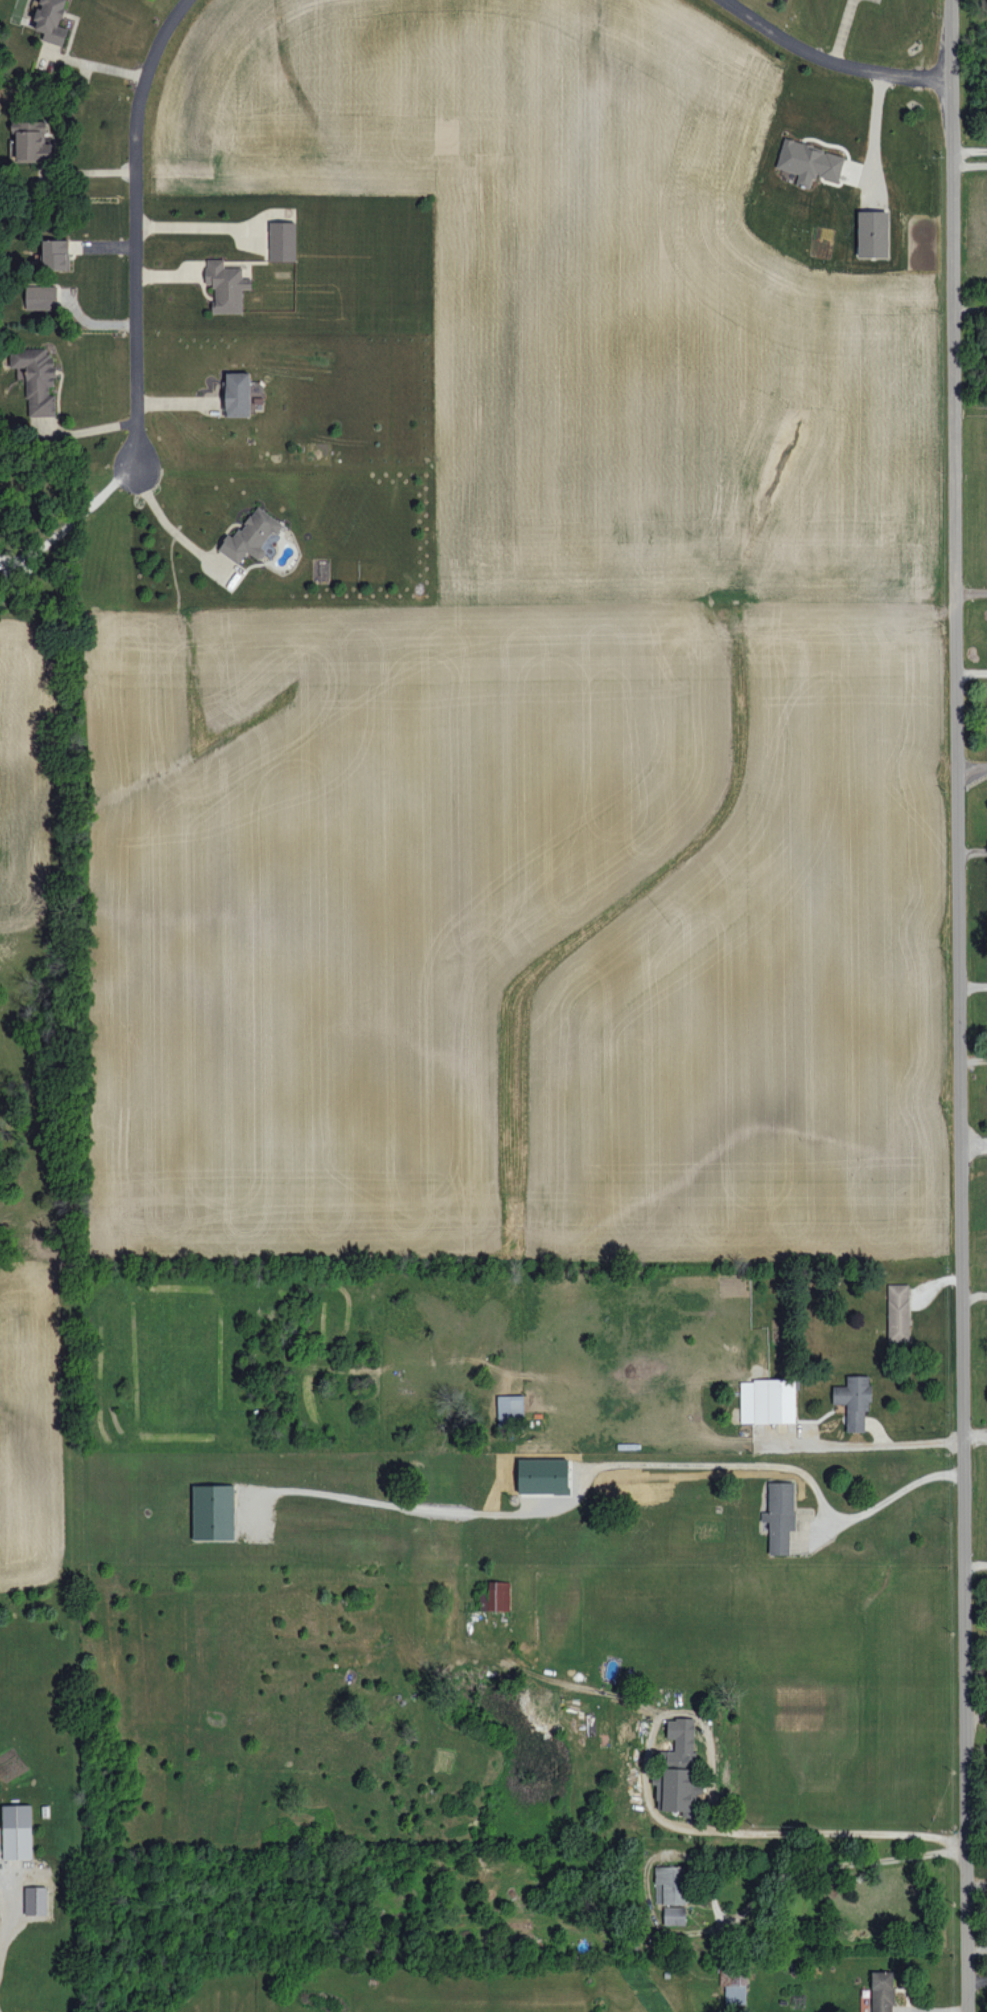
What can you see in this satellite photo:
building: (51, 20)
road: (832, 58)
building: (31, 141)
road: (968, 150)
building: (809, 162)
road: (968, 165)
road: (133, 224)
building: (873, 233)
building: (283, 241)
building: (55, 254)
building: (226, 285)
building: (41, 297)
road: (967, 309)
building: (36, 378)
building: (237, 394)
road: (79, 514)
road: (161, 517)
building: (251, 536)
road: (966, 591)
road: (965, 765)
road: (966, 852)
road: (966, 983)
road: (946, 1006)
road: (966, 1060)
road: (967, 1144)
road: (967, 1293)
building: (898, 1312)
building: (767, 1400)
building: (854, 1400)
building: (511, 1407)
road: (968, 1432)
road: (852, 1440)
road: (603, 1462)
building: (544, 1476)
building: (214, 1512)
building: (780, 1516)
road: (968, 1563)
building: (496, 1596)
road: (968, 1688)
building: (678, 1768)
building: (17, 1831)
building: (0, 1858)
building: (670, 1885)
building: (35, 1900)
road: (1, 1913)
building: (674, 1915)
building: (734, 1984)
building: (882, 1991)

